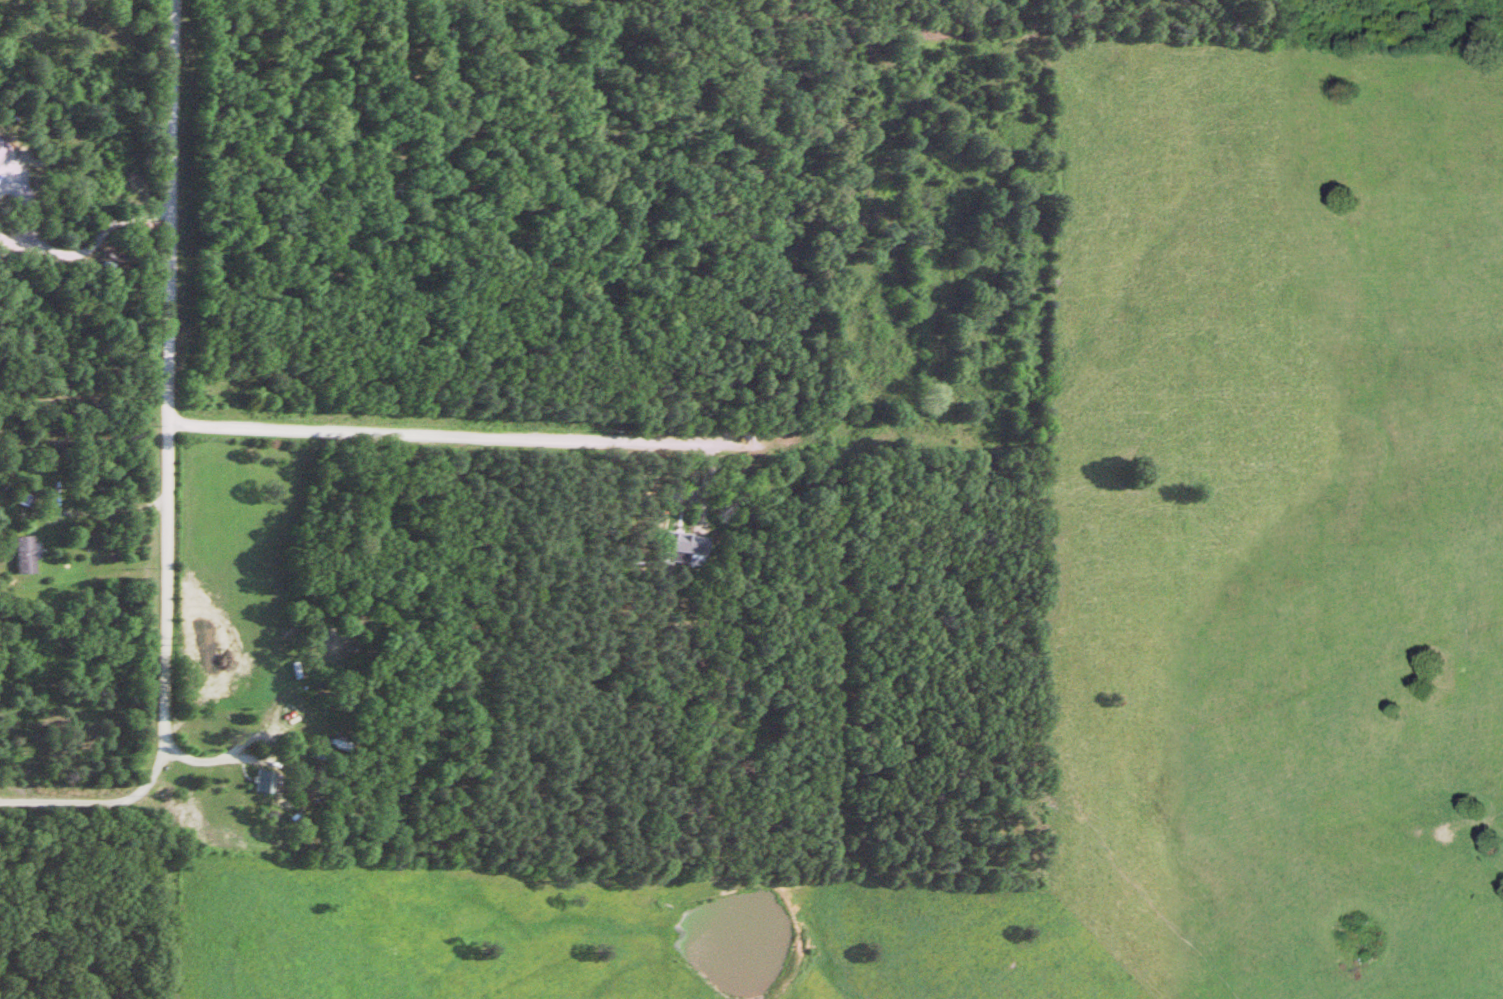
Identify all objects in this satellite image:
building: (5, 151)
road: (168, 424)
road: (489, 438)
road: (100, 508)
building: (31, 552)
road: (275, 756)
building: (271, 779)

